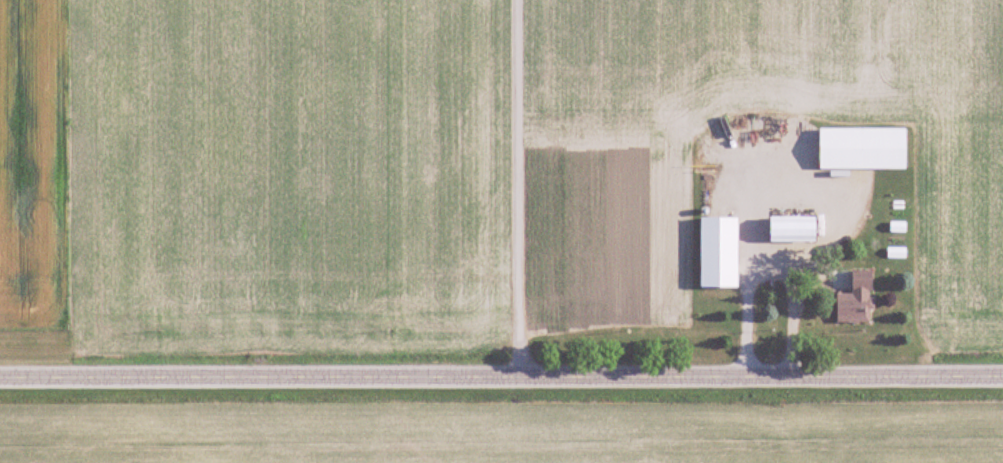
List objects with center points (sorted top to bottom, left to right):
building: (862, 148)
road: (799, 169)
road: (498, 188)
building: (792, 229)
building: (718, 251)
road: (765, 261)
building: (856, 300)
road: (501, 377)

